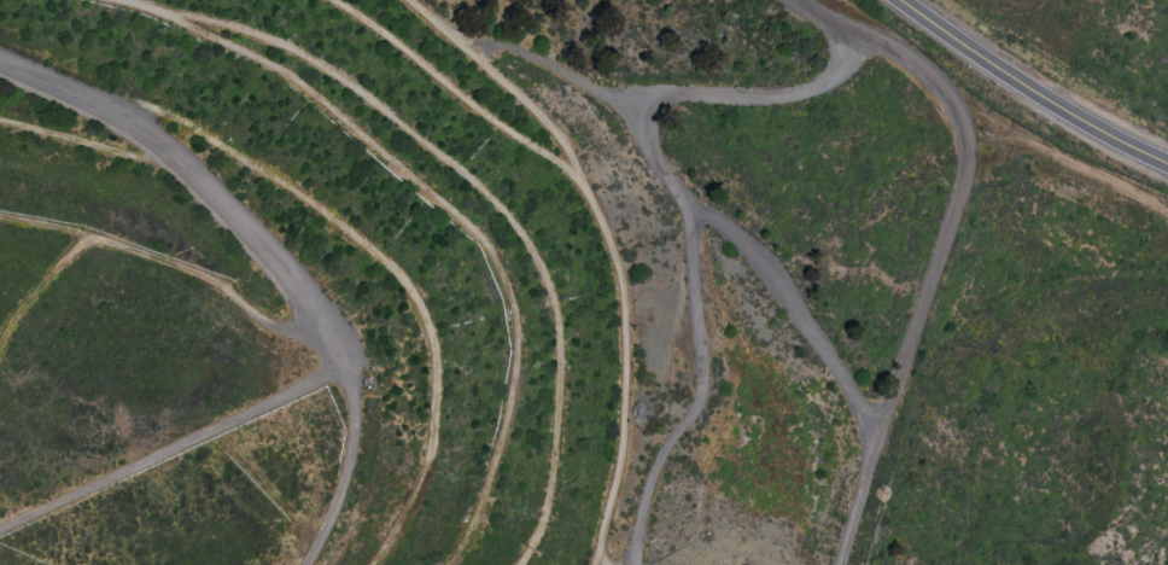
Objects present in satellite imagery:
road: (827, 19)
road: (1029, 87)
road: (199, 175)
road: (685, 214)
road: (935, 279)
landfill: (439, 282)
road: (793, 309)

